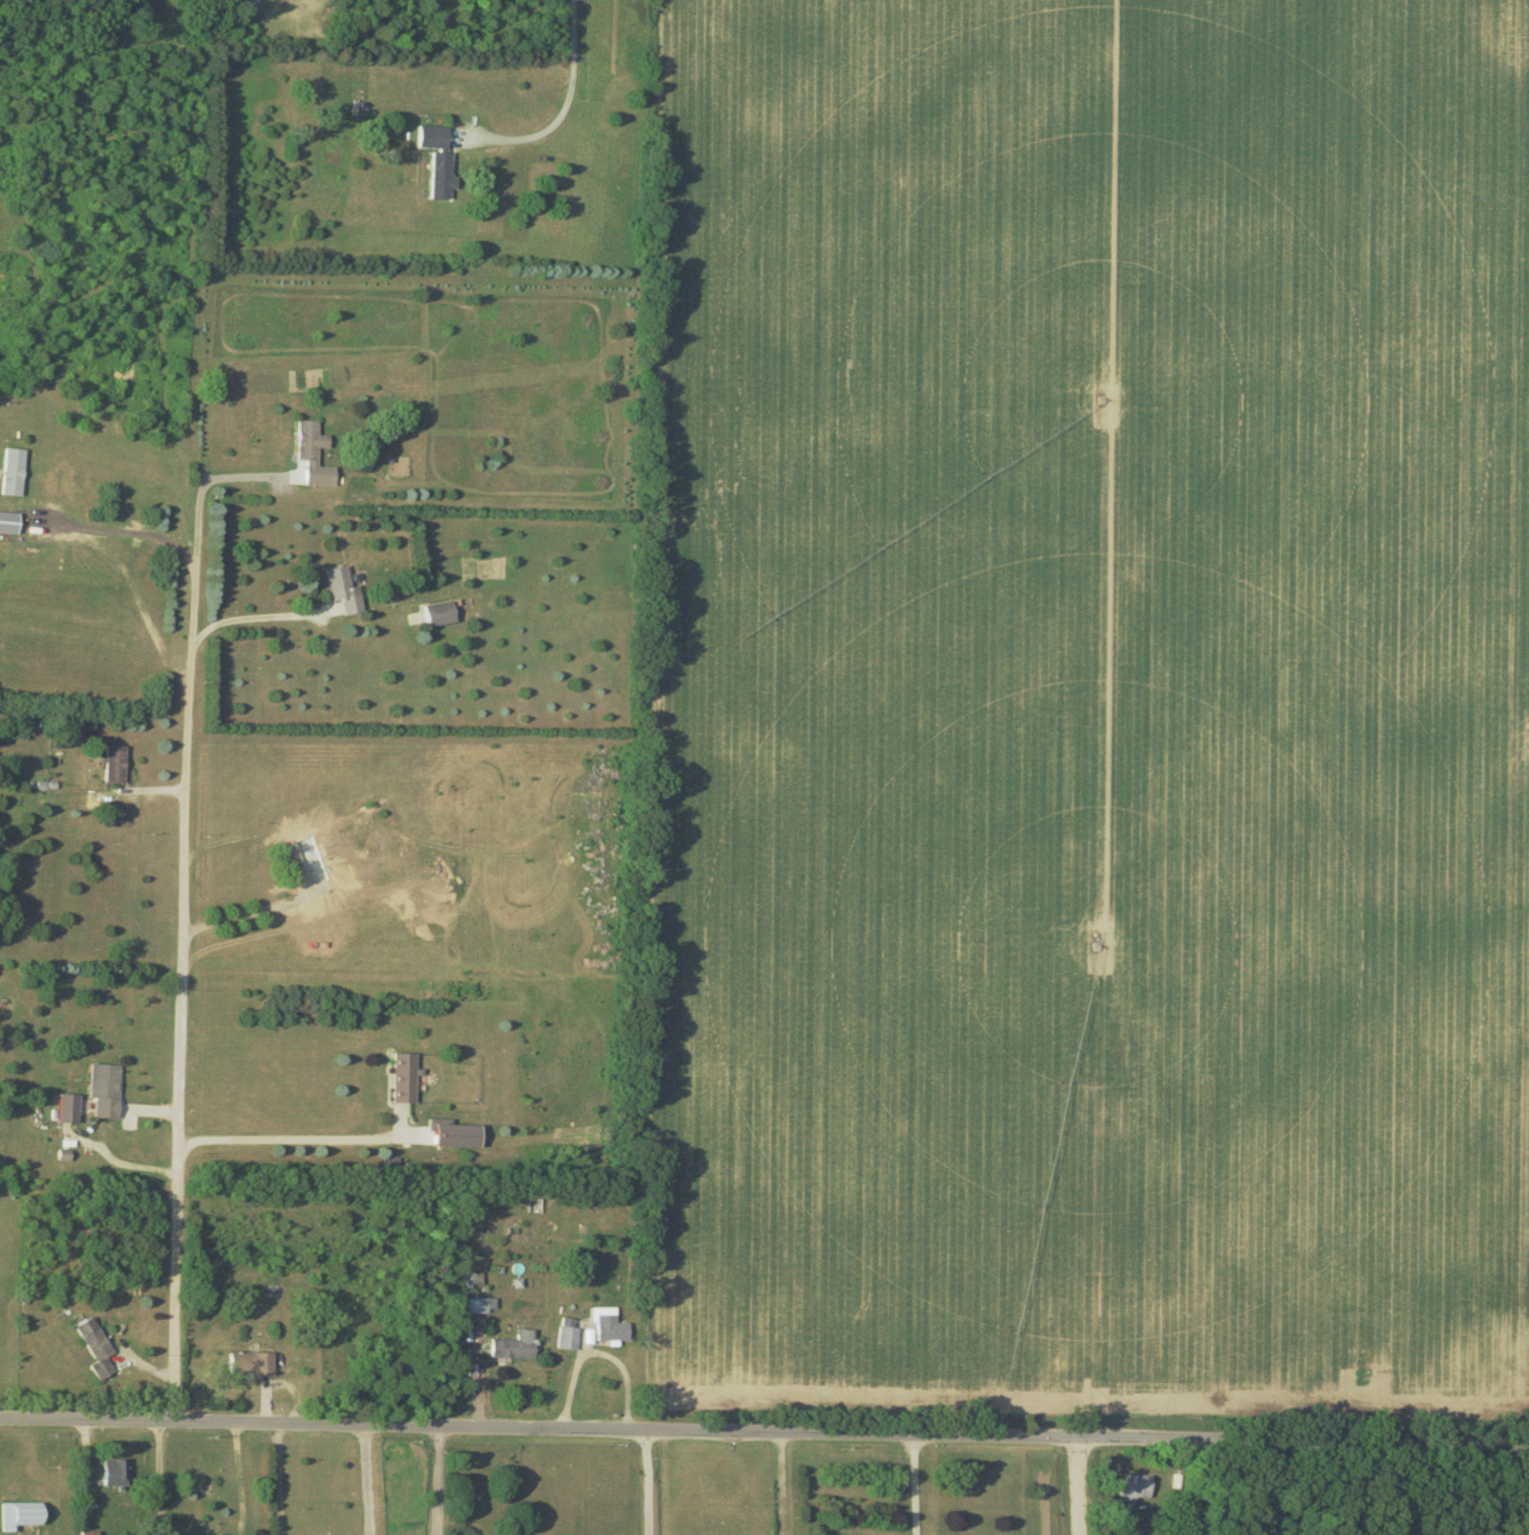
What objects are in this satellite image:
road: (567, 102)
building: (313, 453)
building: (13, 473)
building: (8, 523)
building: (342, 592)
road: (144, 606)
building: (439, 613)
road: (253, 615)
building: (115, 764)
building: (312, 860)
road: (184, 952)
building: (404, 1078)
building: (105, 1082)
building: (67, 1109)
road: (295, 1138)
road: (106, 1147)
building: (480, 1305)
building: (611, 1328)
building: (568, 1335)
building: (95, 1345)
building: (513, 1347)
building: (251, 1363)
road: (764, 1431)
building: (113, 1472)
road: (161, 1480)
road: (280, 1480)
road: (243, 1481)
road: (370, 1481)
road: (436, 1482)
road: (650, 1482)
road: (785, 1483)
road: (918, 1484)
road: (1076, 1485)
building: (1135, 1487)
building: (19, 1515)

